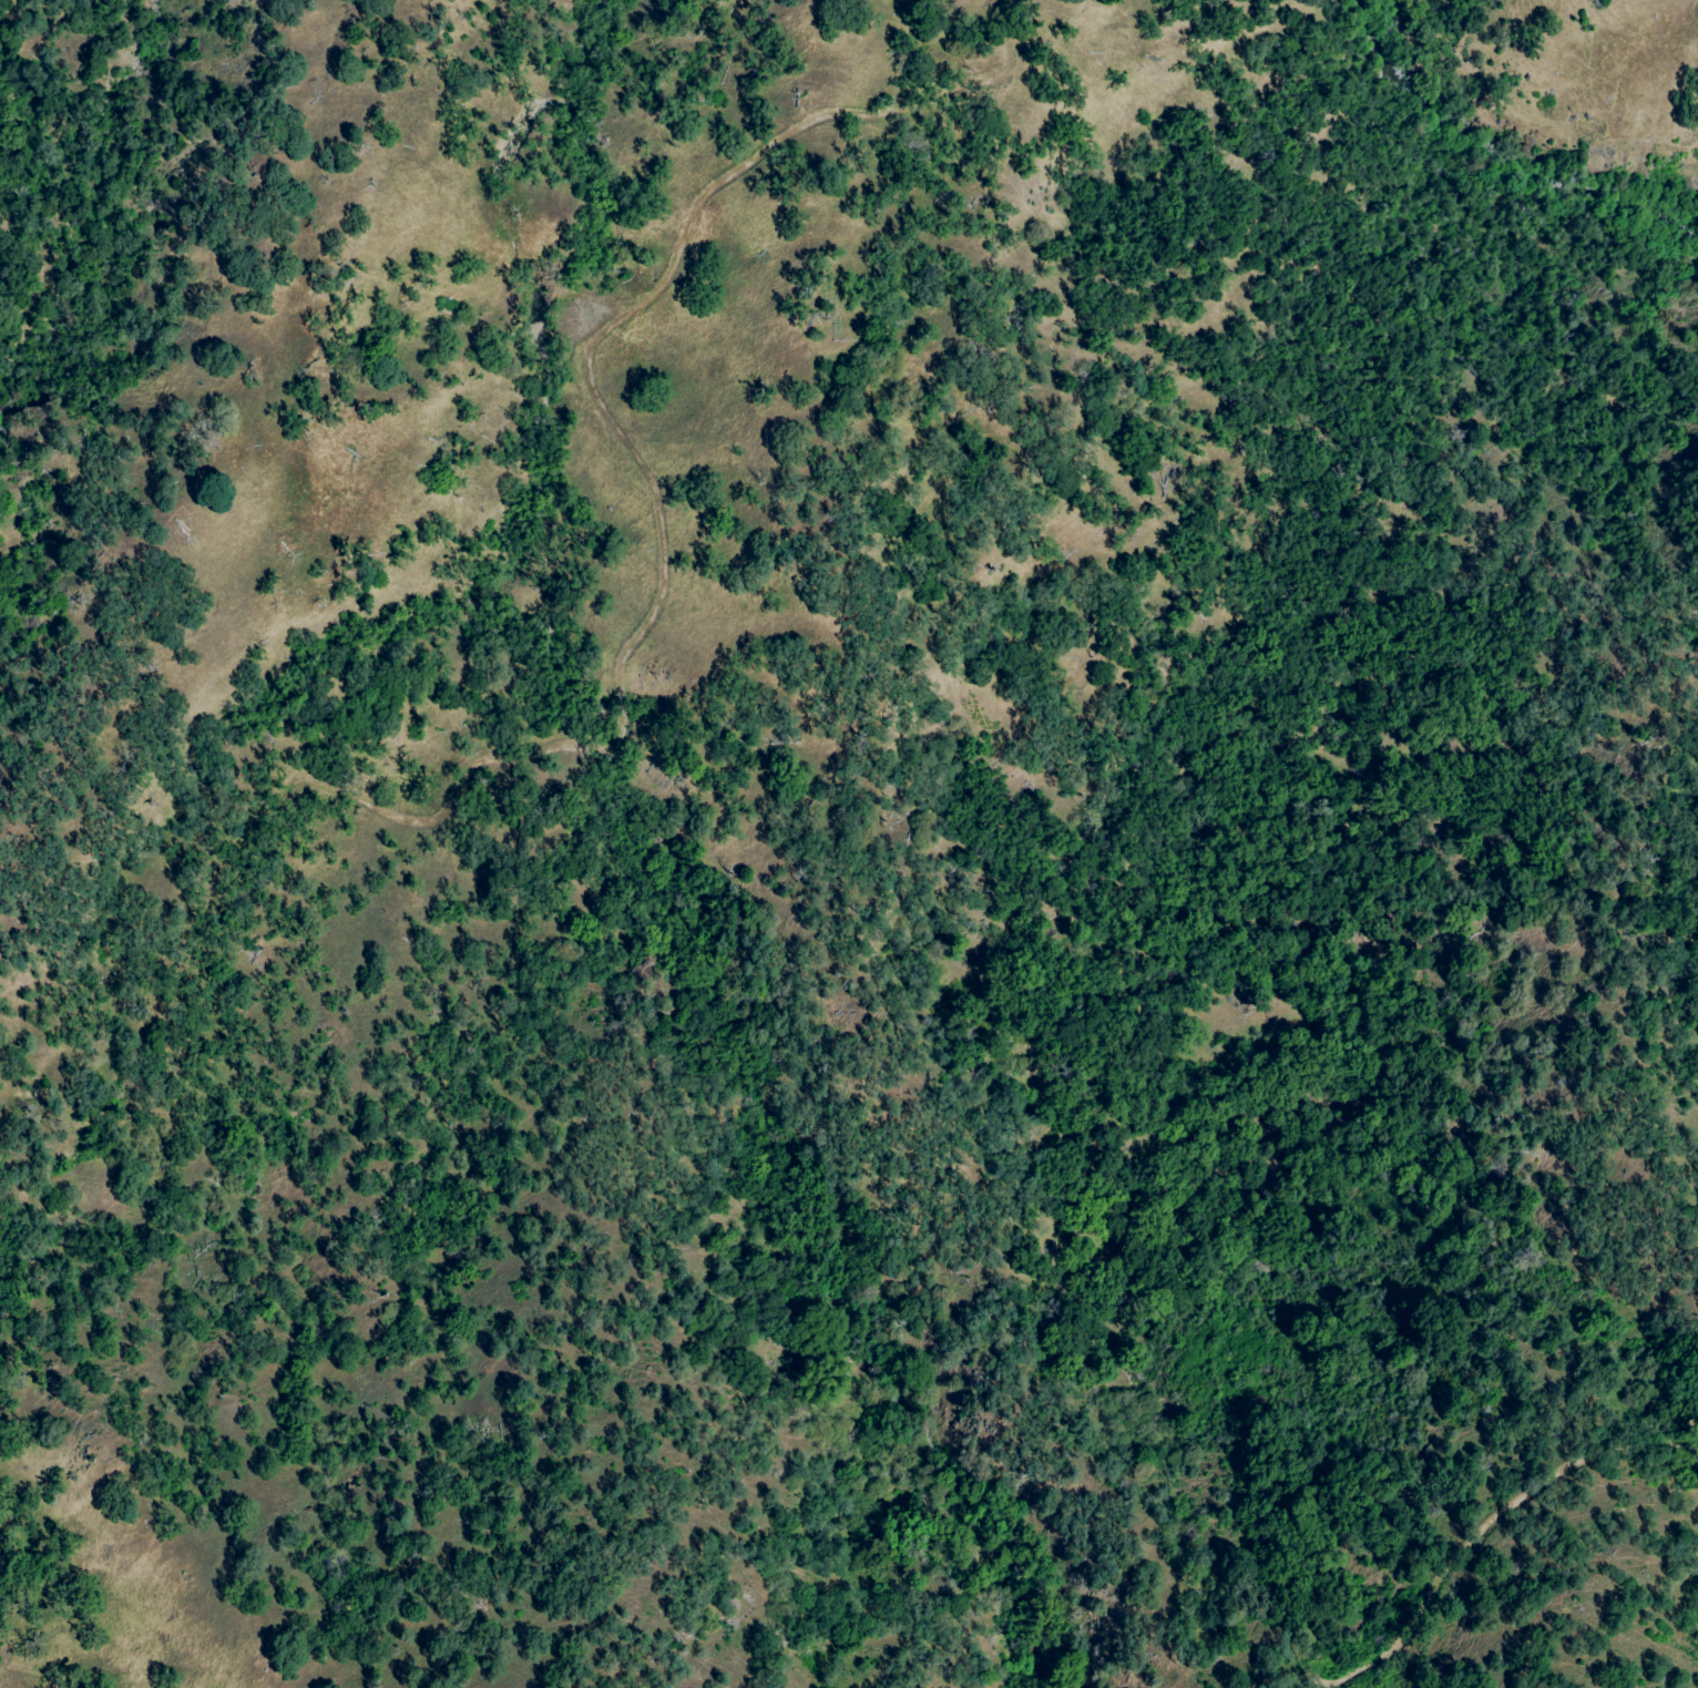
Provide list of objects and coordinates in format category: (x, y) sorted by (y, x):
river: (1479, 162)

